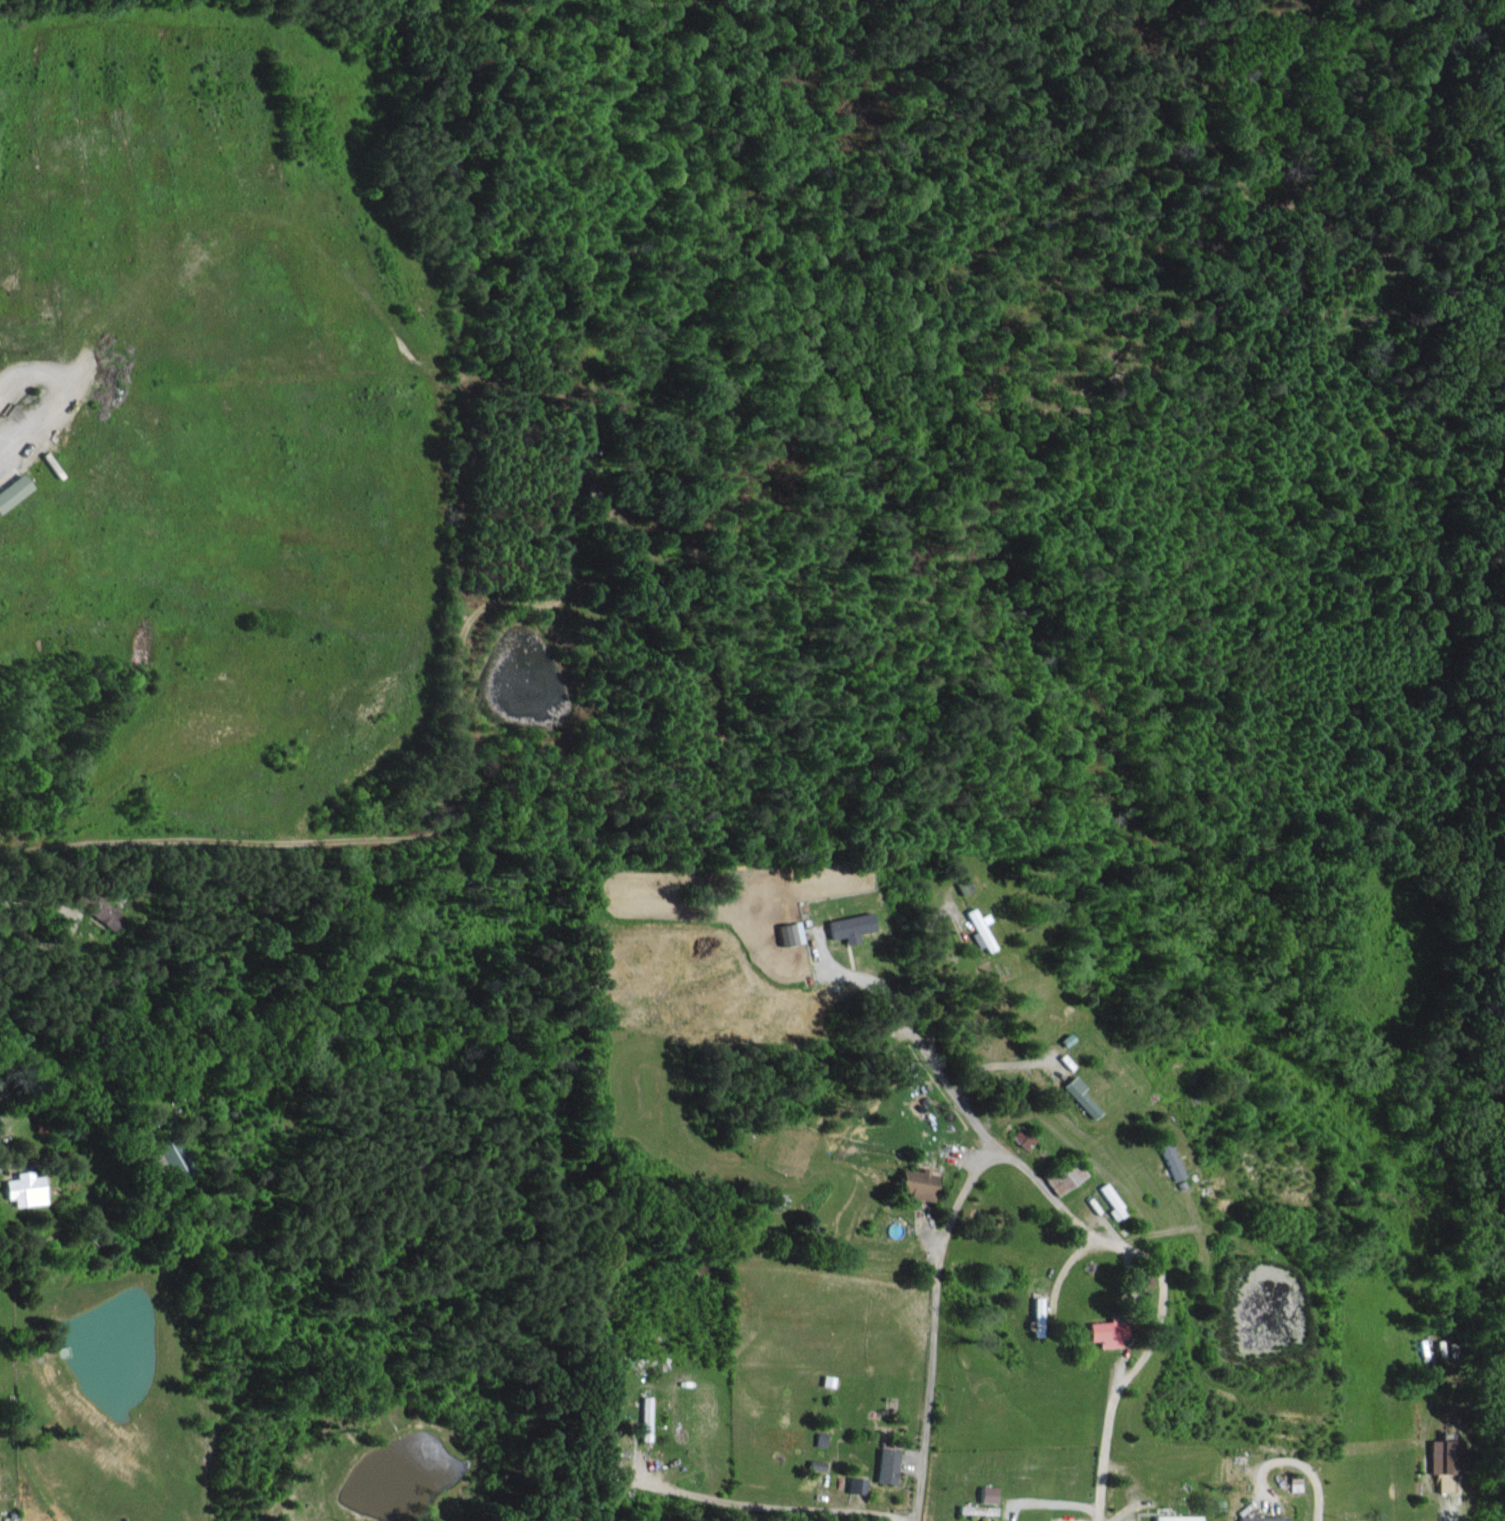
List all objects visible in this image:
building: (11, 488)
building: (961, 884)
building: (96, 908)
building: (847, 925)
building: (978, 928)
building: (787, 932)
building: (1077, 1094)
building: (1019, 1137)
building: (1167, 1157)
building: (171, 1160)
building: (1059, 1177)
building: (915, 1182)
building: (23, 1188)
building: (1109, 1200)
building: (1036, 1315)
building: (1106, 1329)
road: (931, 1349)
building: (643, 1416)
building: (820, 1437)
road: (1105, 1455)
building: (1443, 1458)
building: (885, 1464)
building: (859, 1483)
building: (985, 1492)
building: (1260, 1517)

